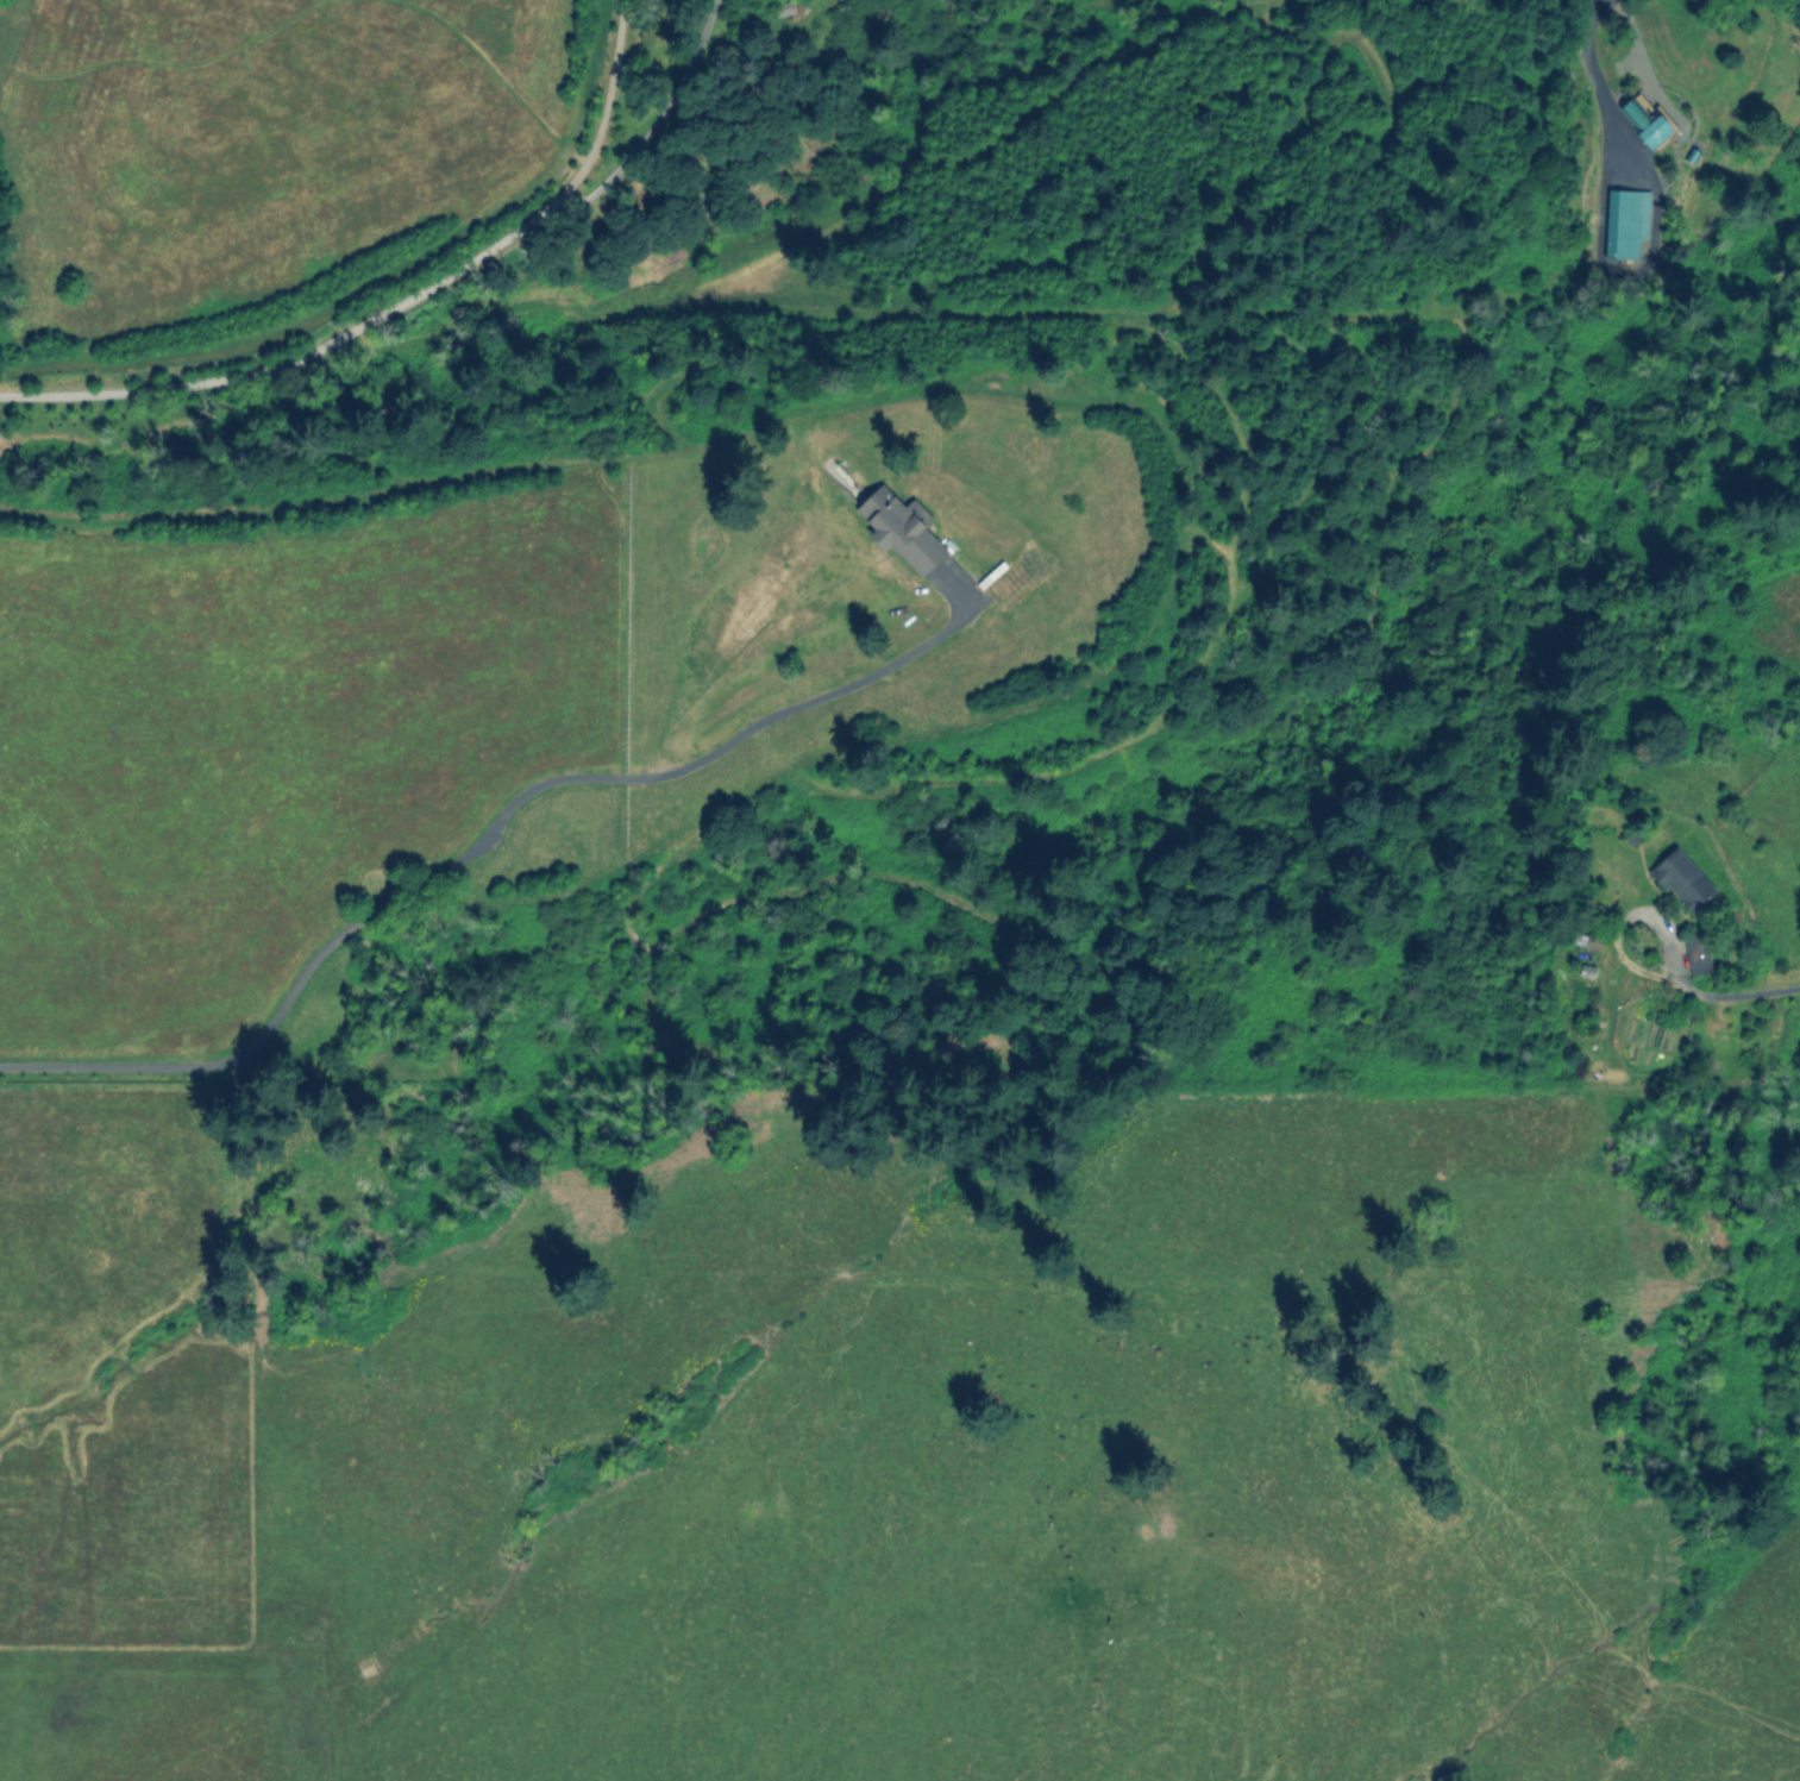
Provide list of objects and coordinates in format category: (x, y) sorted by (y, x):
building: (1644, 123)
building: (1624, 221)
road: (416, 295)
building: (901, 527)
road: (473, 845)
building: (1682, 879)
building: (1587, 940)
building: (1696, 953)
road: (1748, 992)

